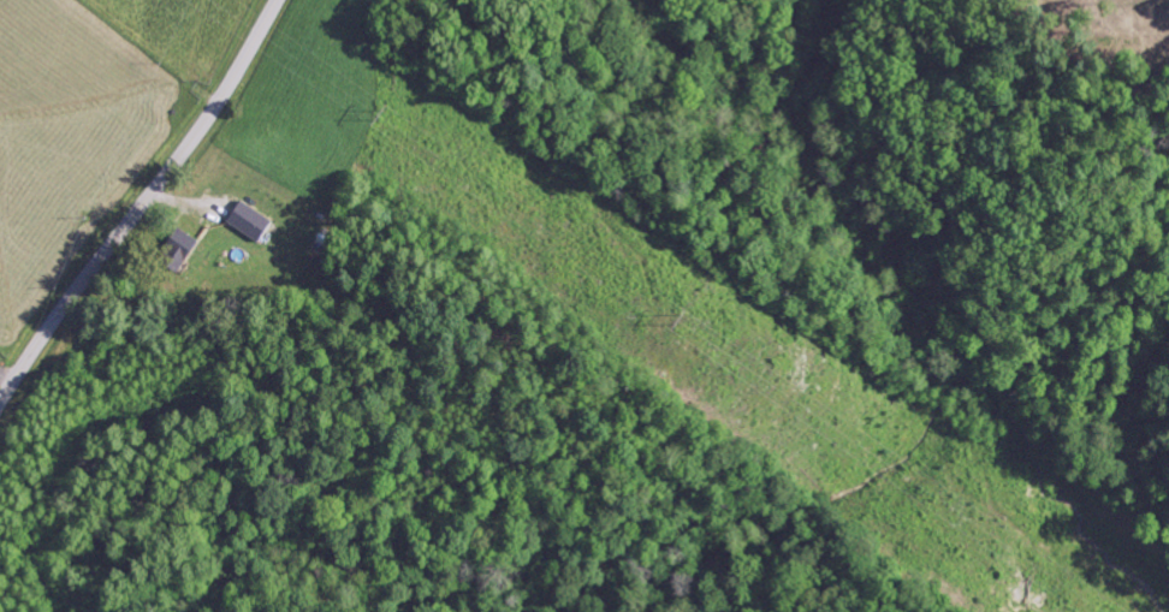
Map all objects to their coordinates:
power tower: (380, 113)
road: (142, 204)
building: (253, 221)
power tower: (689, 317)

